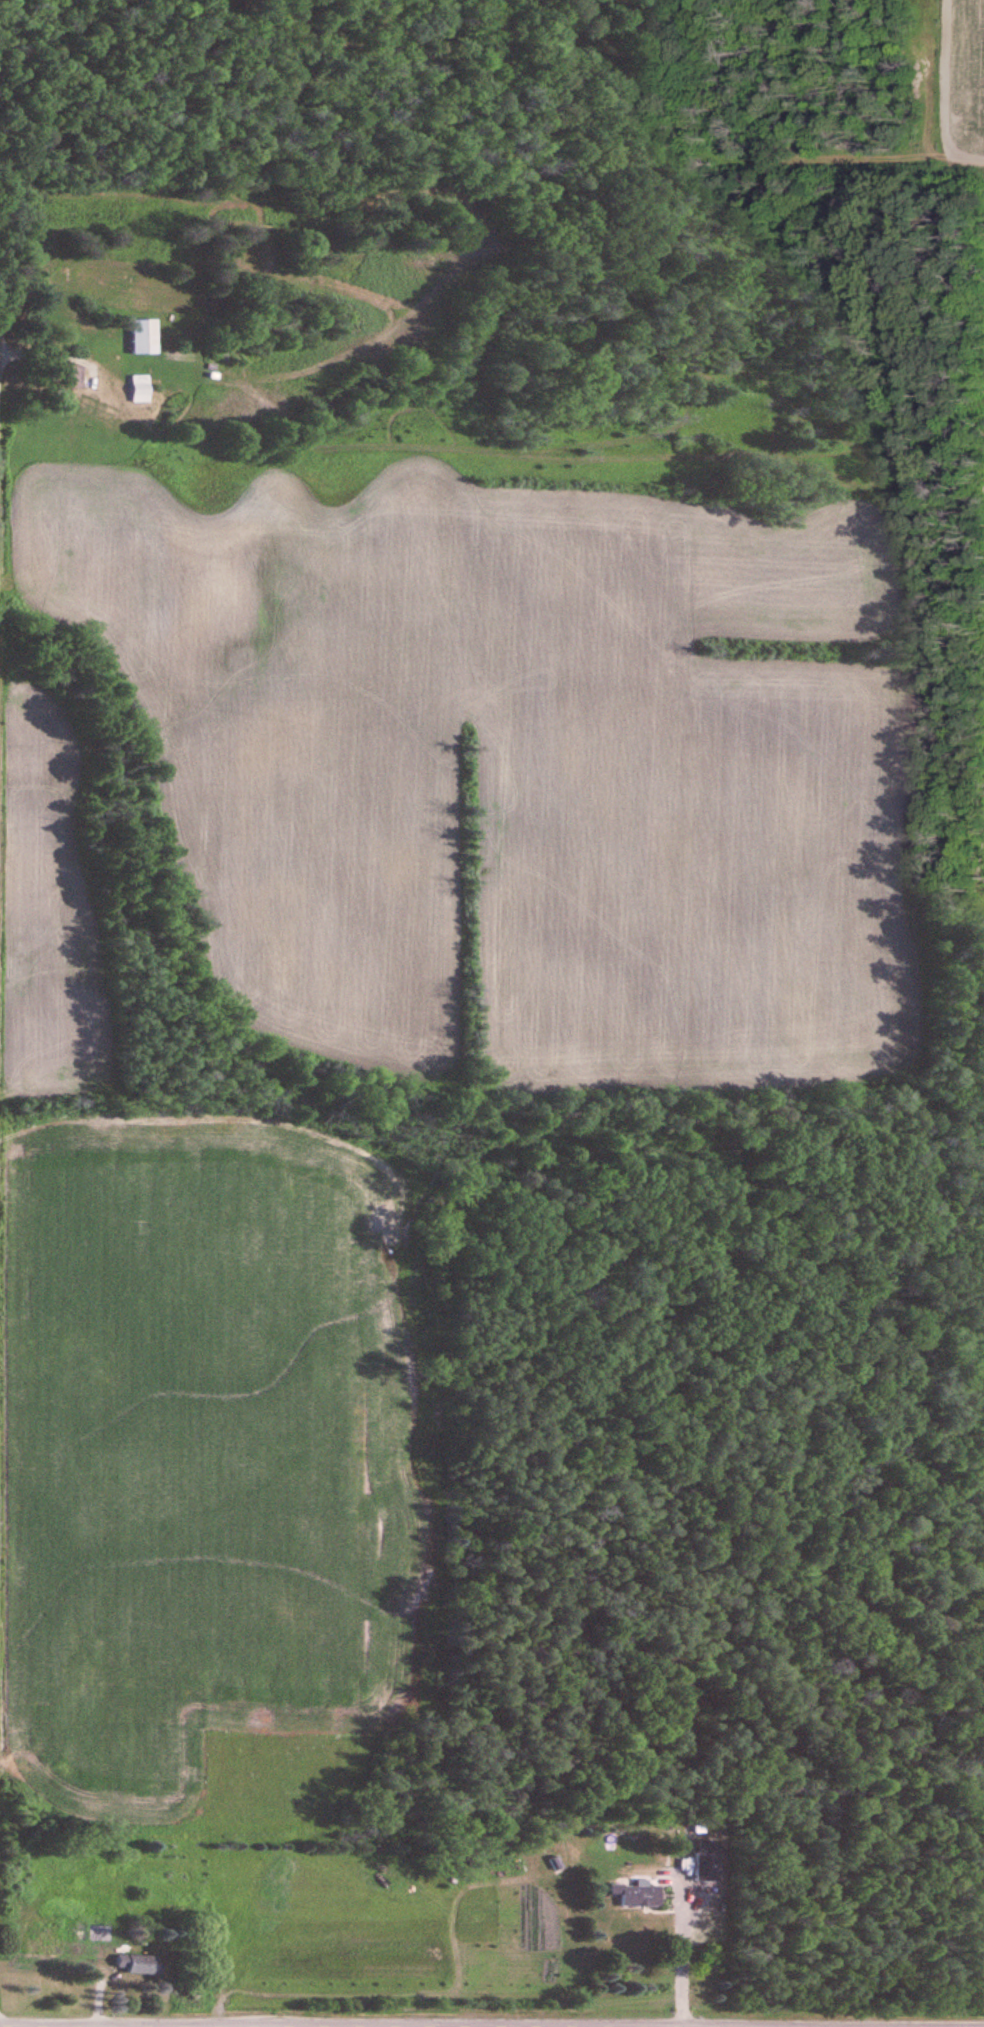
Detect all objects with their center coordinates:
building: (145, 336)
road: (47, 357)
building: (141, 388)
building: (709, 1861)
building: (638, 1895)
building: (101, 1932)
building: (46, 1946)
road: (675, 1960)
building: (144, 1963)

